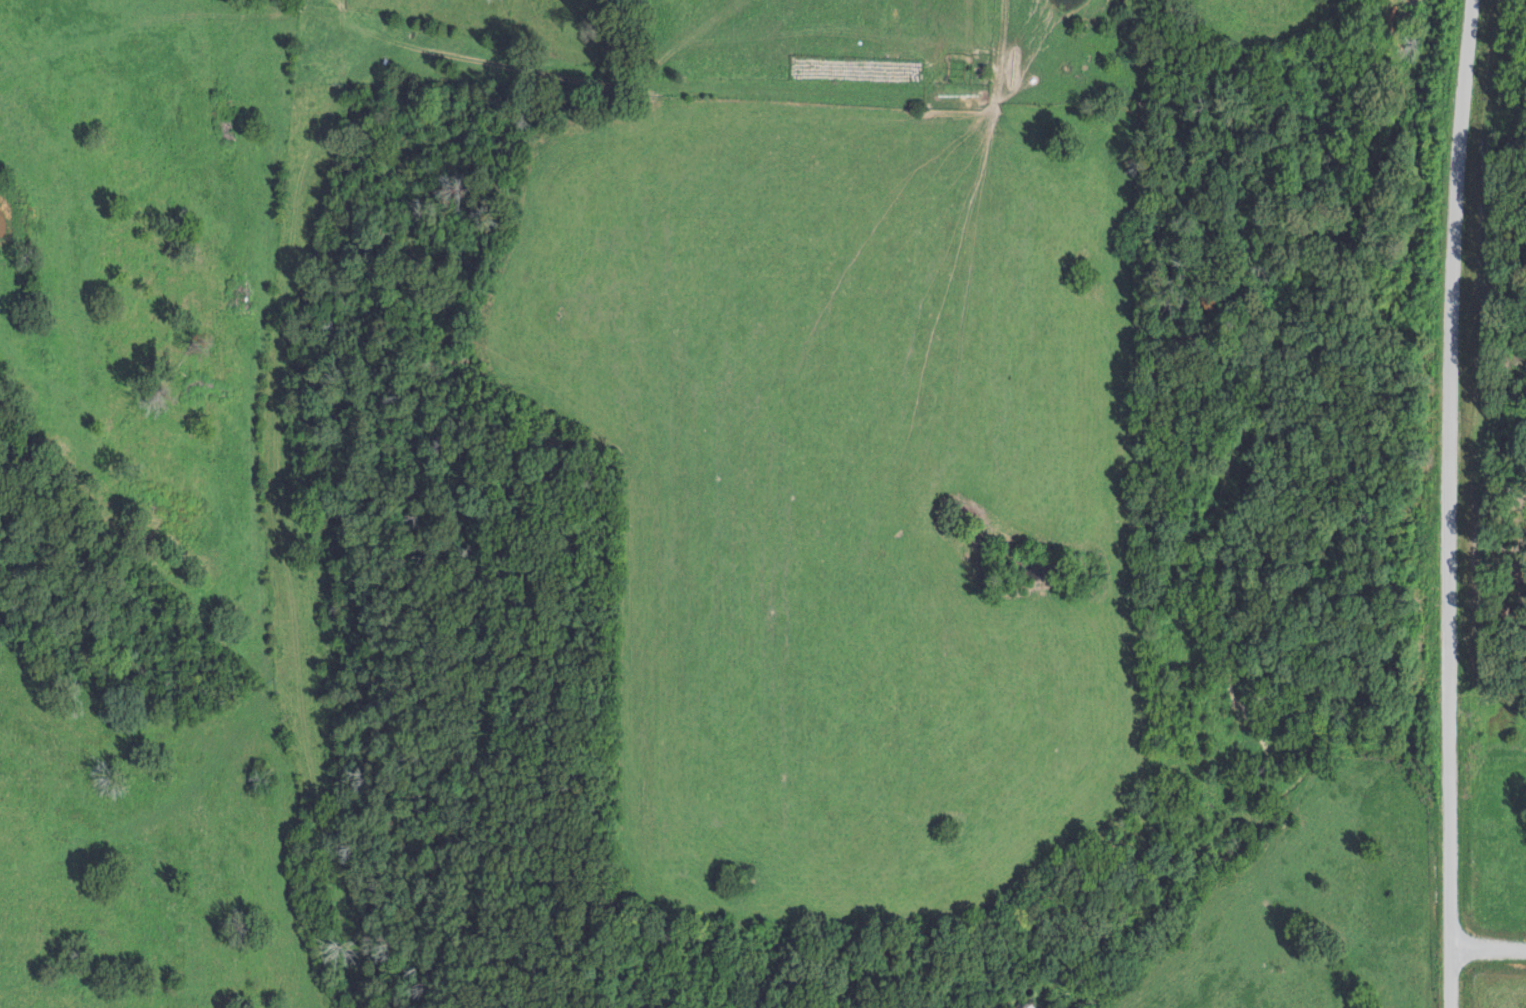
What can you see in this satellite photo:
road: (1226, 484)
road: (1189, 875)
road: (1472, 959)

